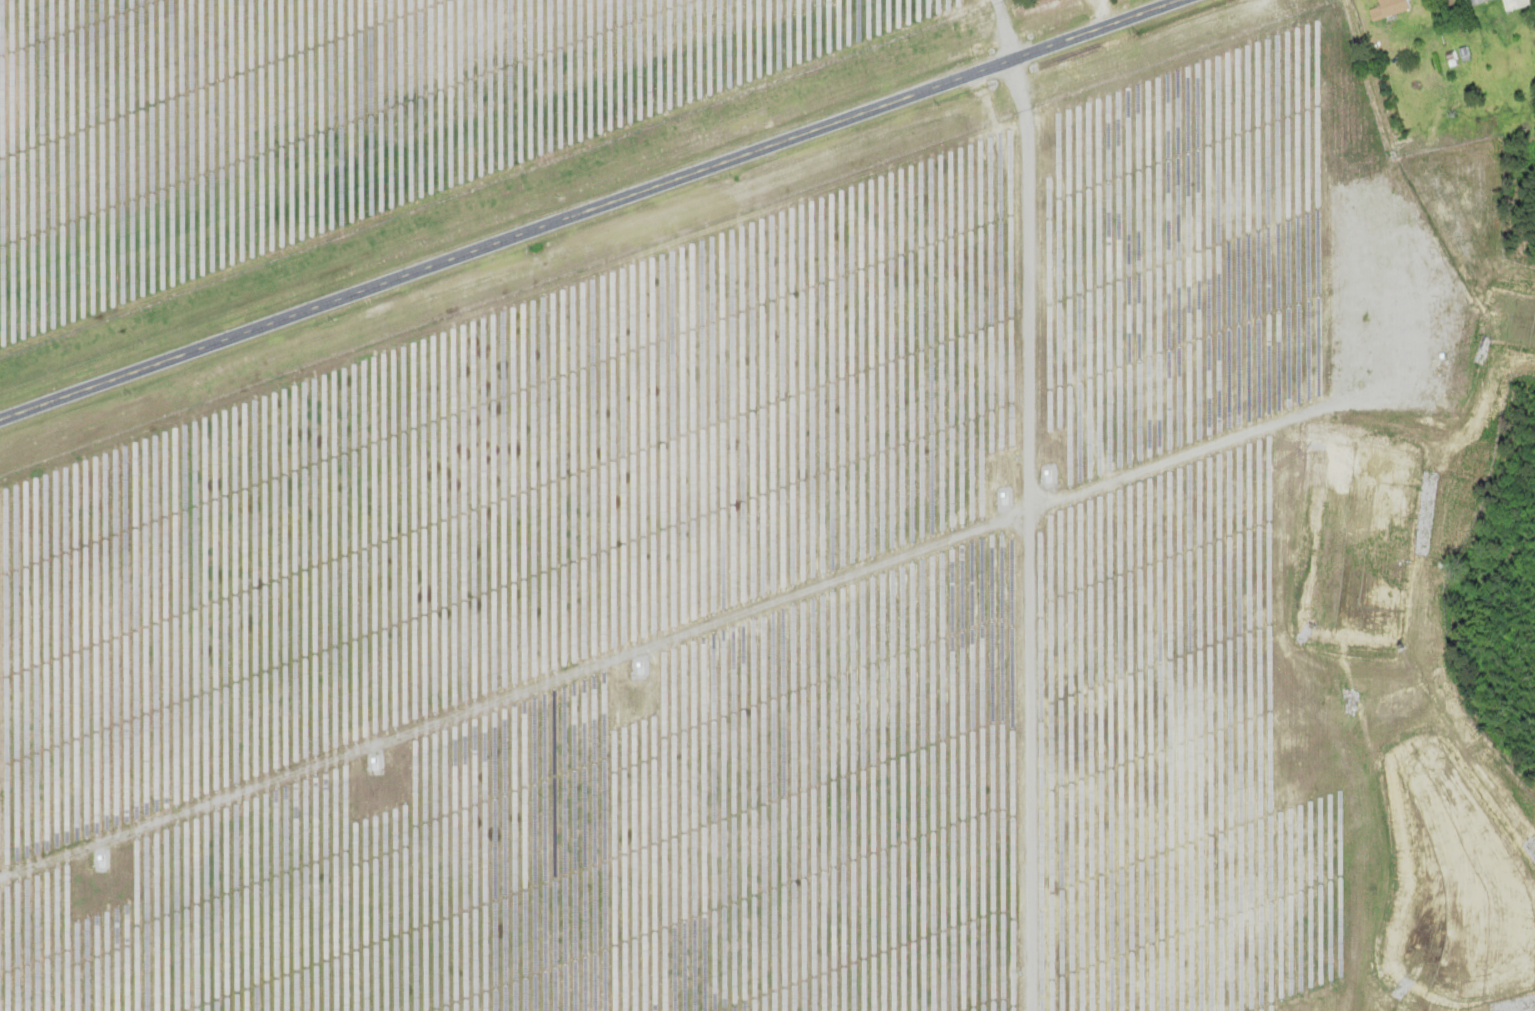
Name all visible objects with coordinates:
building: (1471, 2)
building: (1386, 8)
road: (589, 209)
building: (1238, 795)

